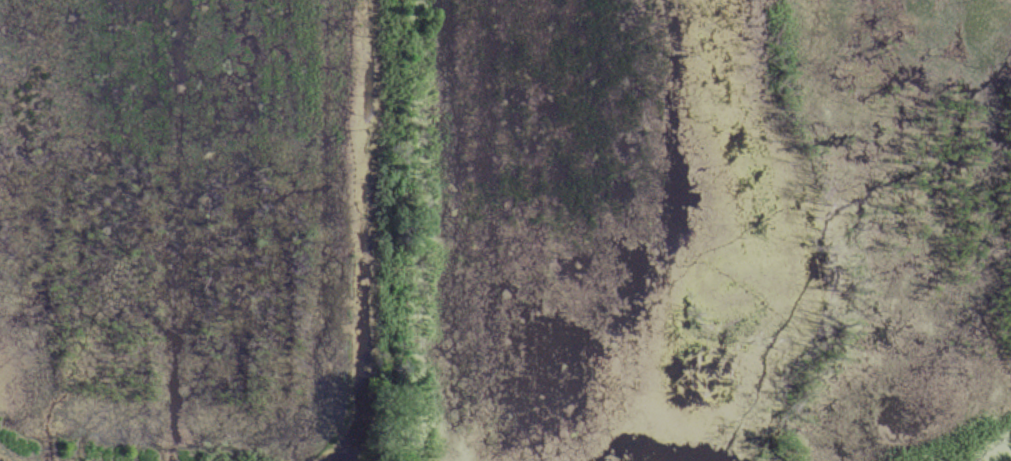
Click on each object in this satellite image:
crop: (500, 225)

